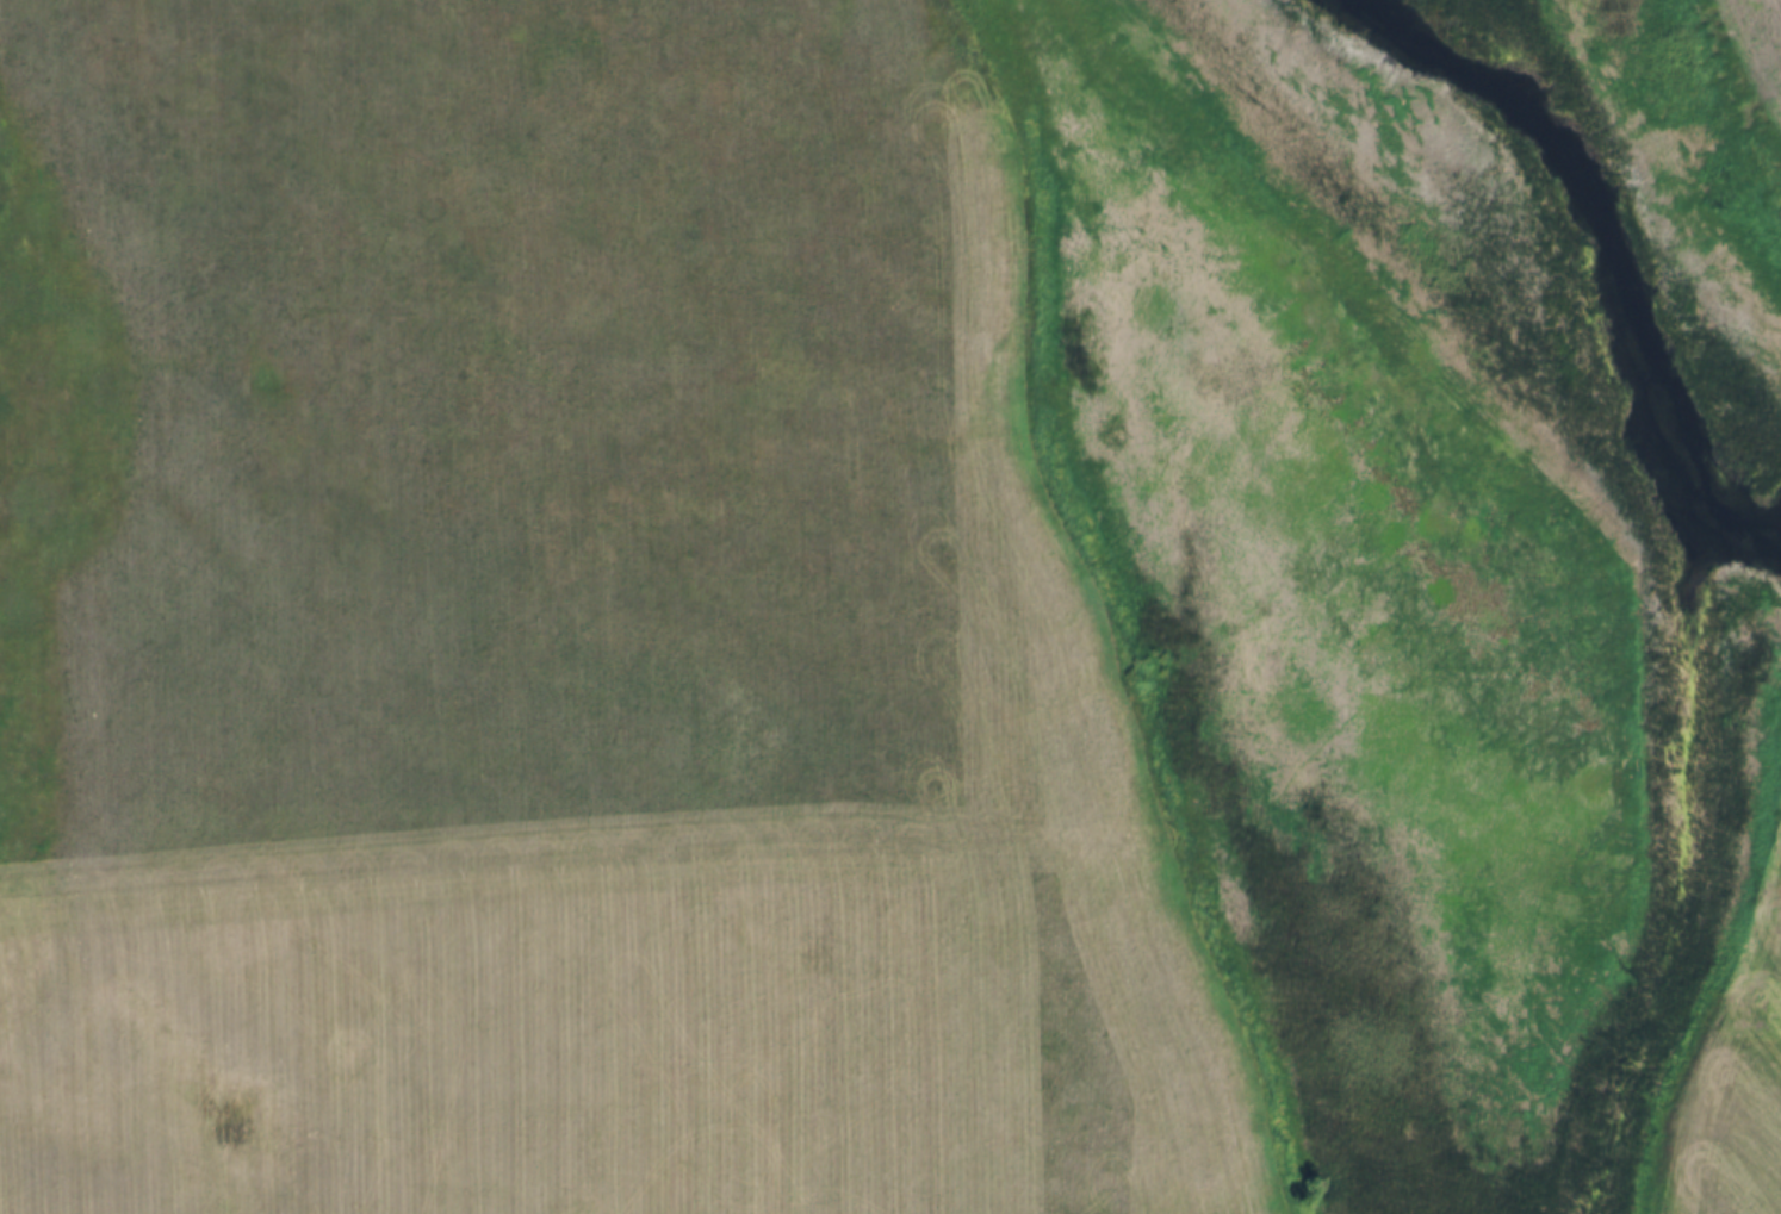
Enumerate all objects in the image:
river: (1613, 251)

